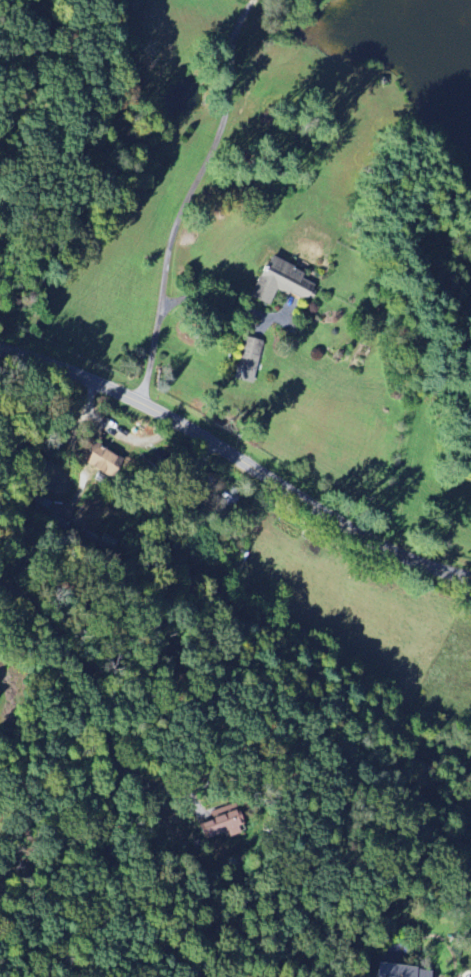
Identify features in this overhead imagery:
road: (142, 14)
road: (187, 197)
building: (278, 281)
road: (211, 298)
building: (247, 361)
road: (238, 458)
building: (98, 460)
road: (453, 690)
road: (125, 781)
building: (221, 823)
building: (399, 971)

